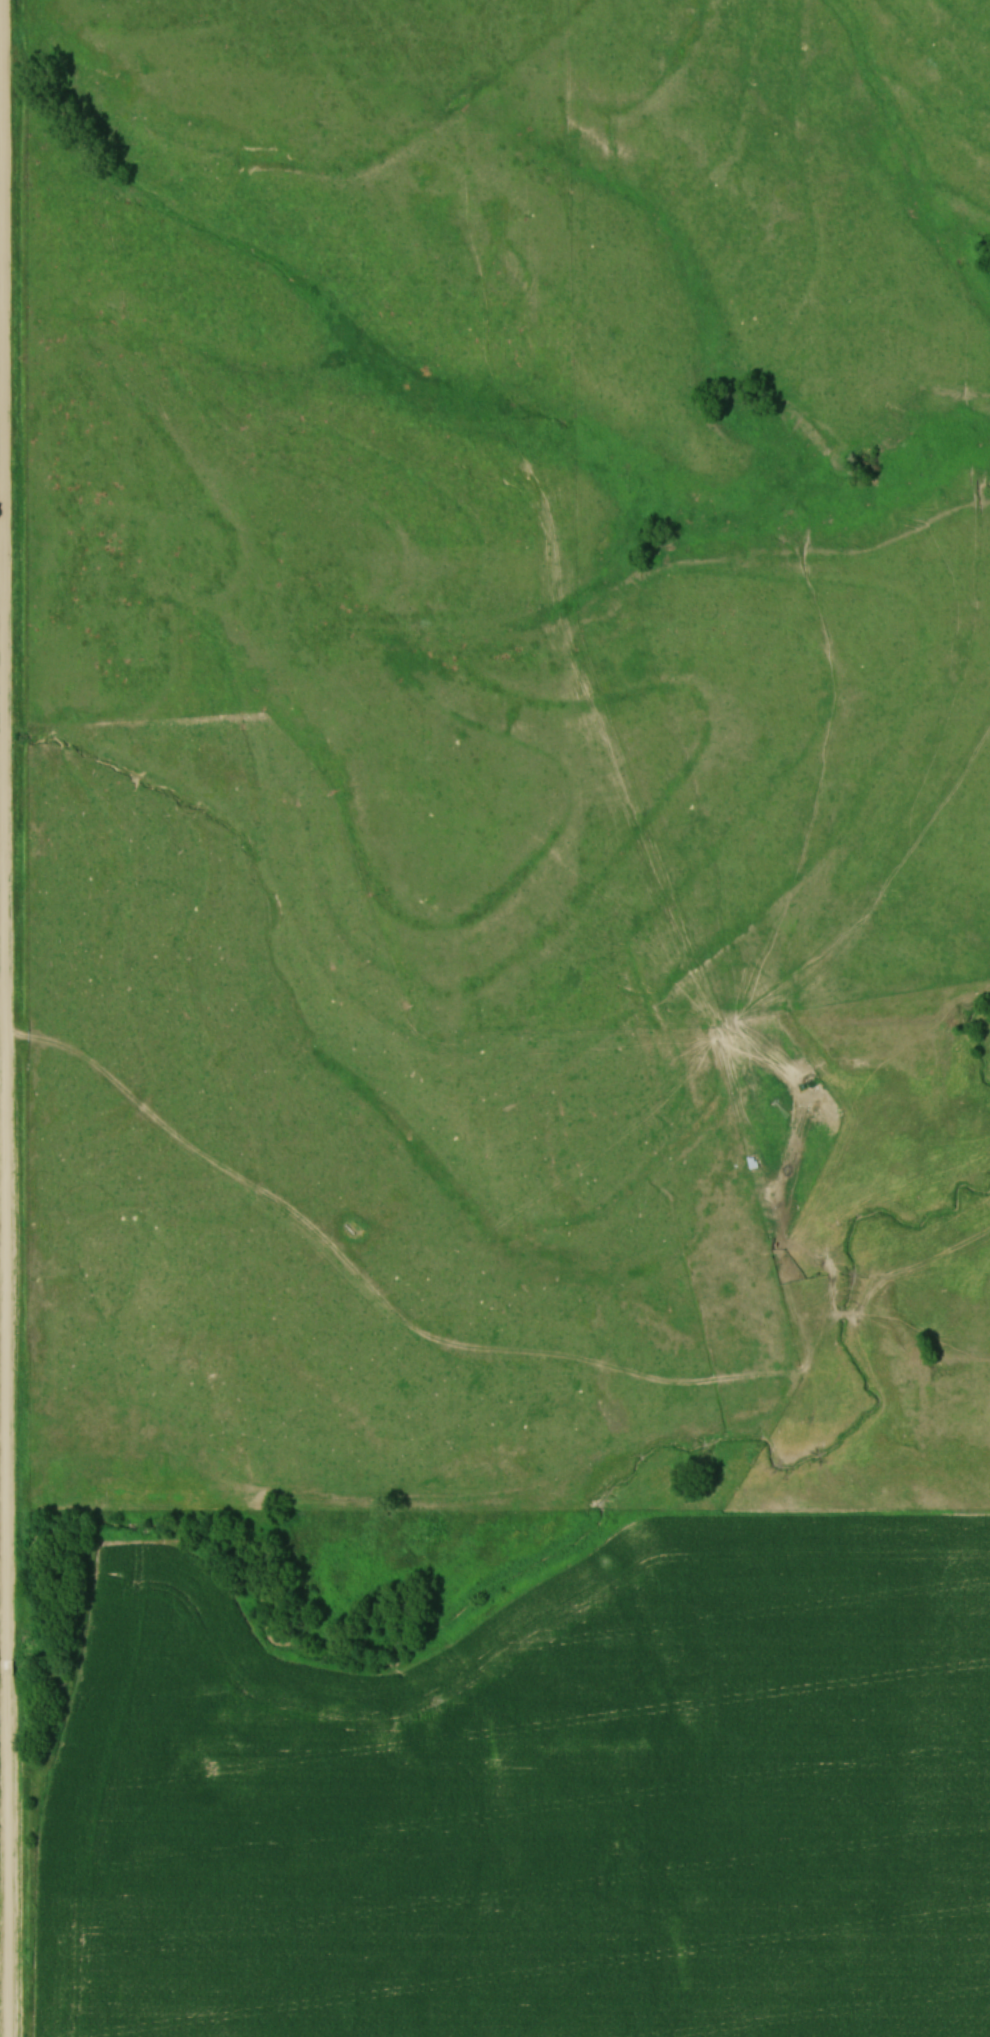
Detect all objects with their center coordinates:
building: (752, 1162)
road: (4, 1481)

